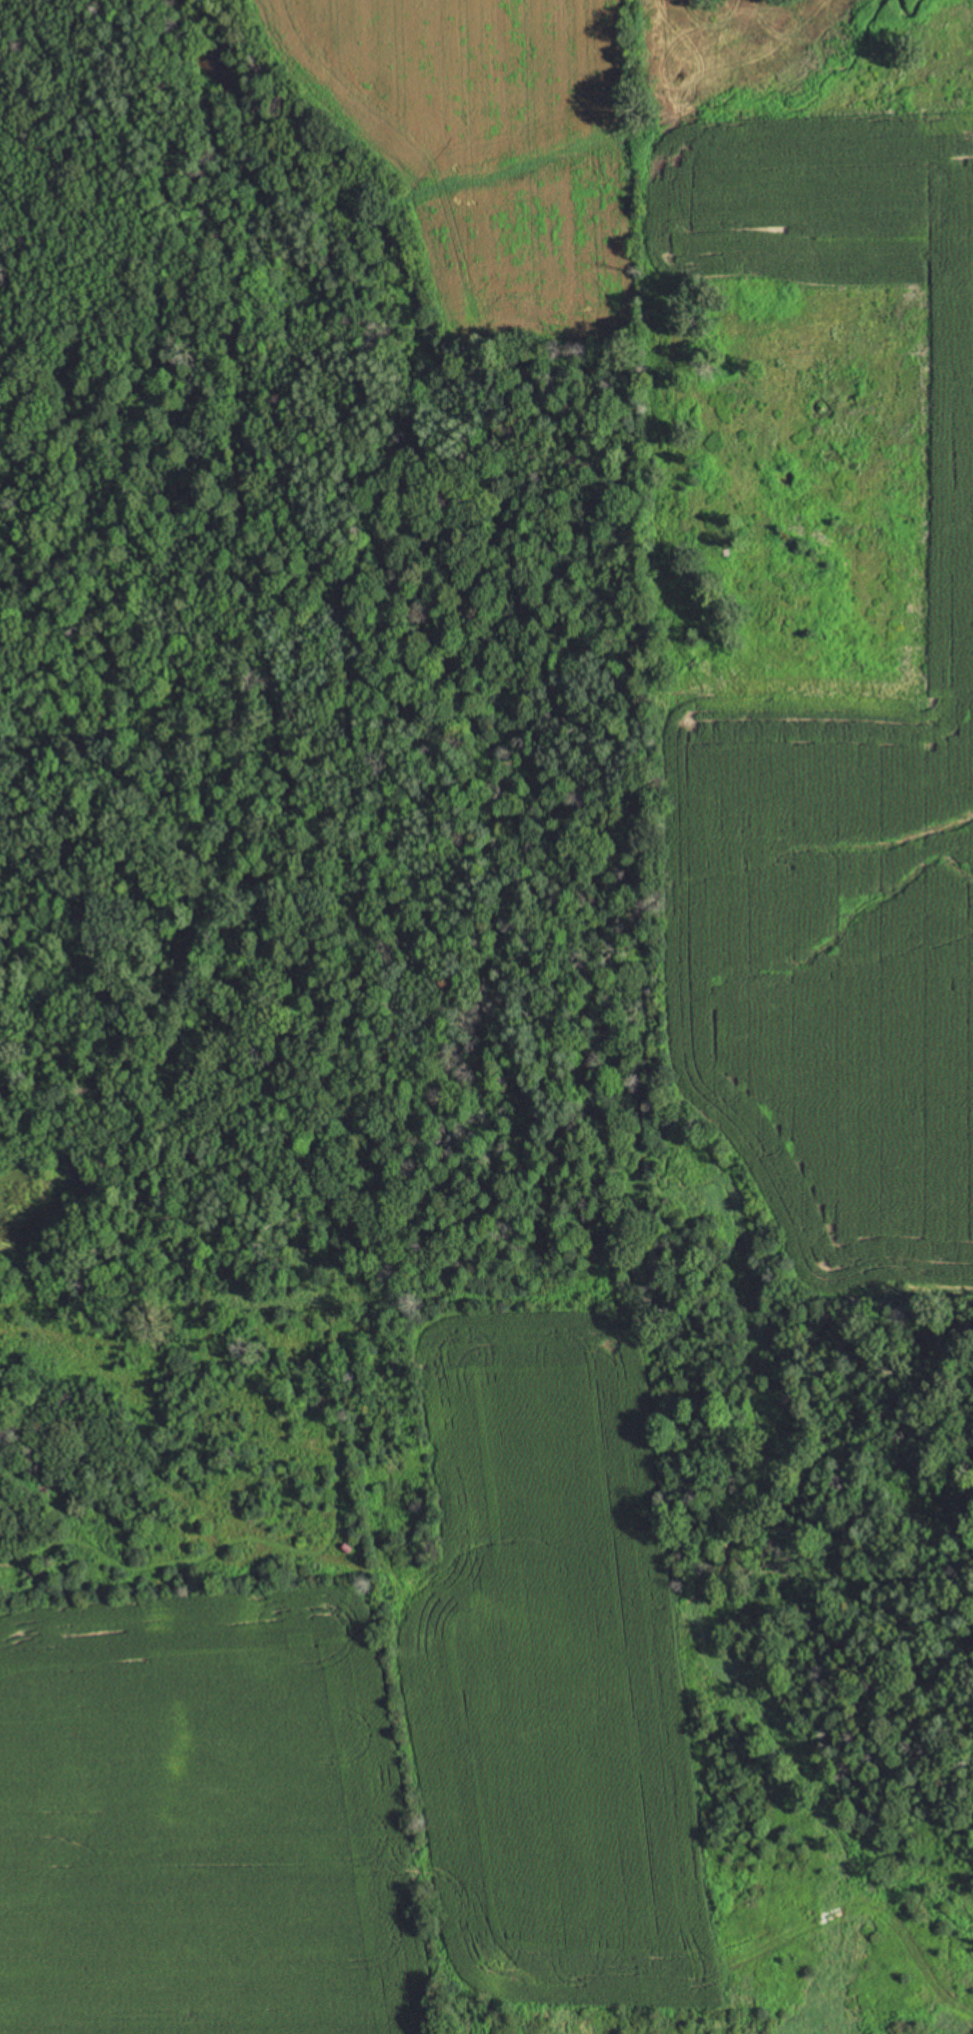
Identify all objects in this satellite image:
building: (35, 1575)

